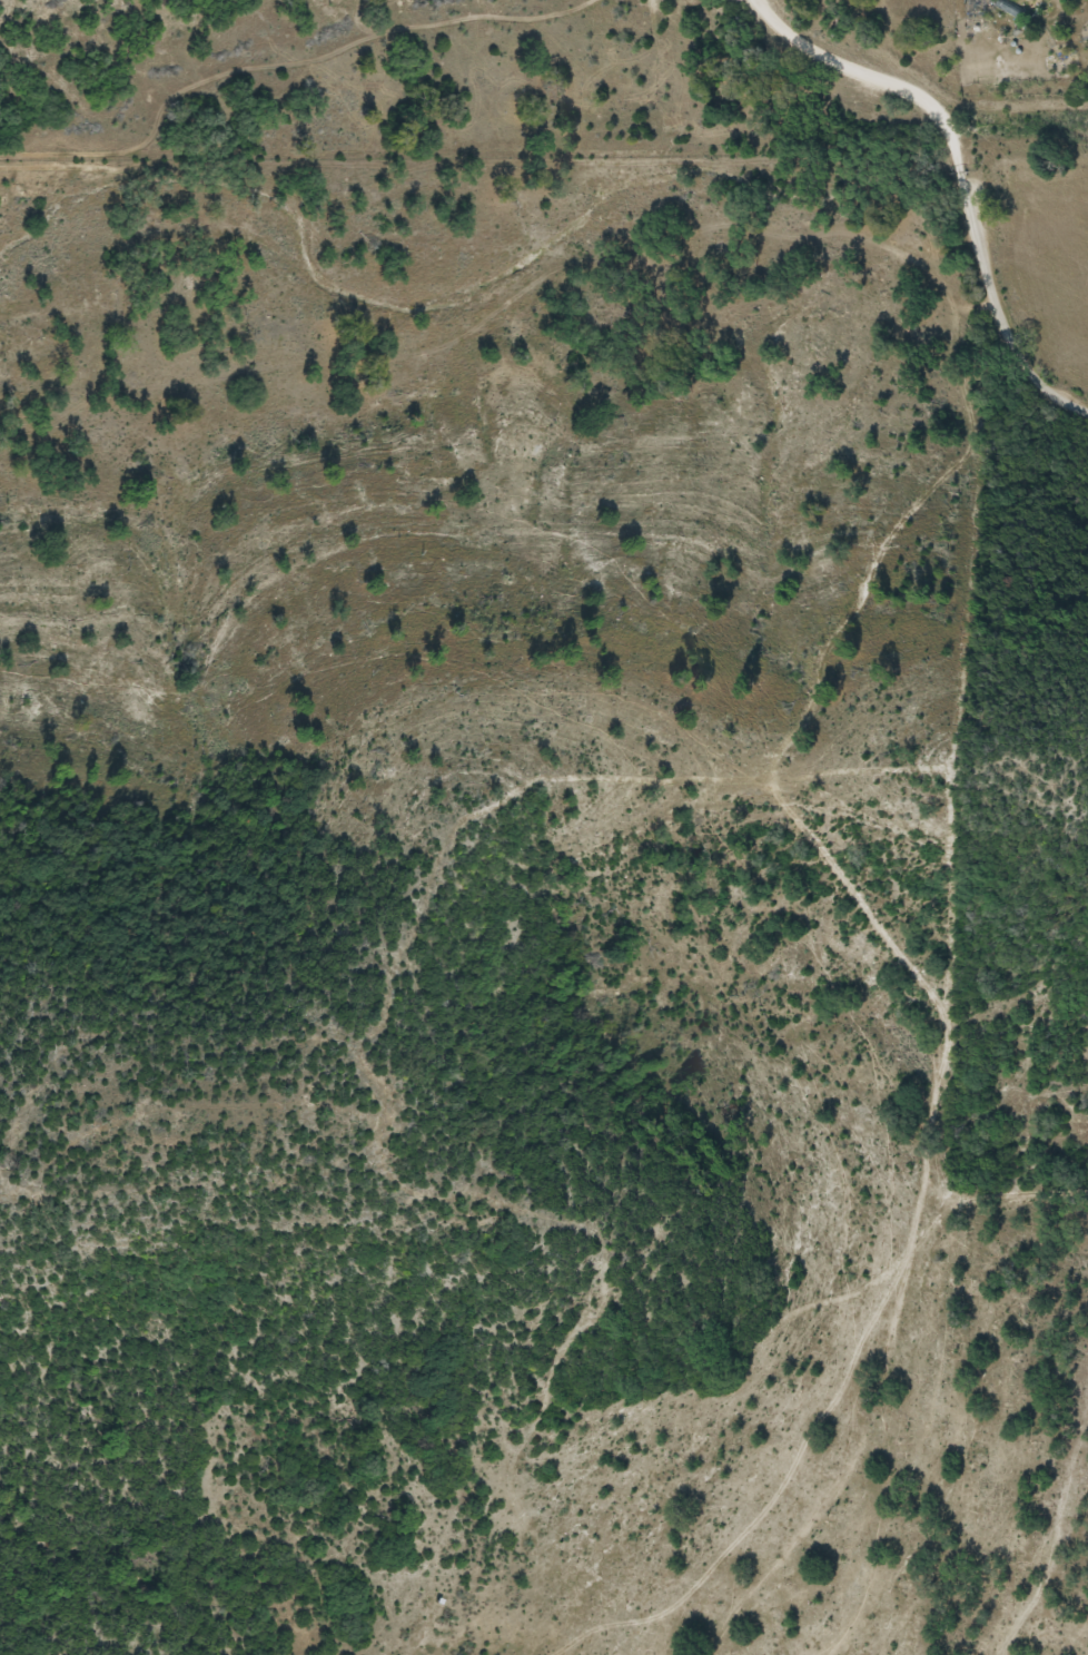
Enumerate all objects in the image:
road: (968, 177)

